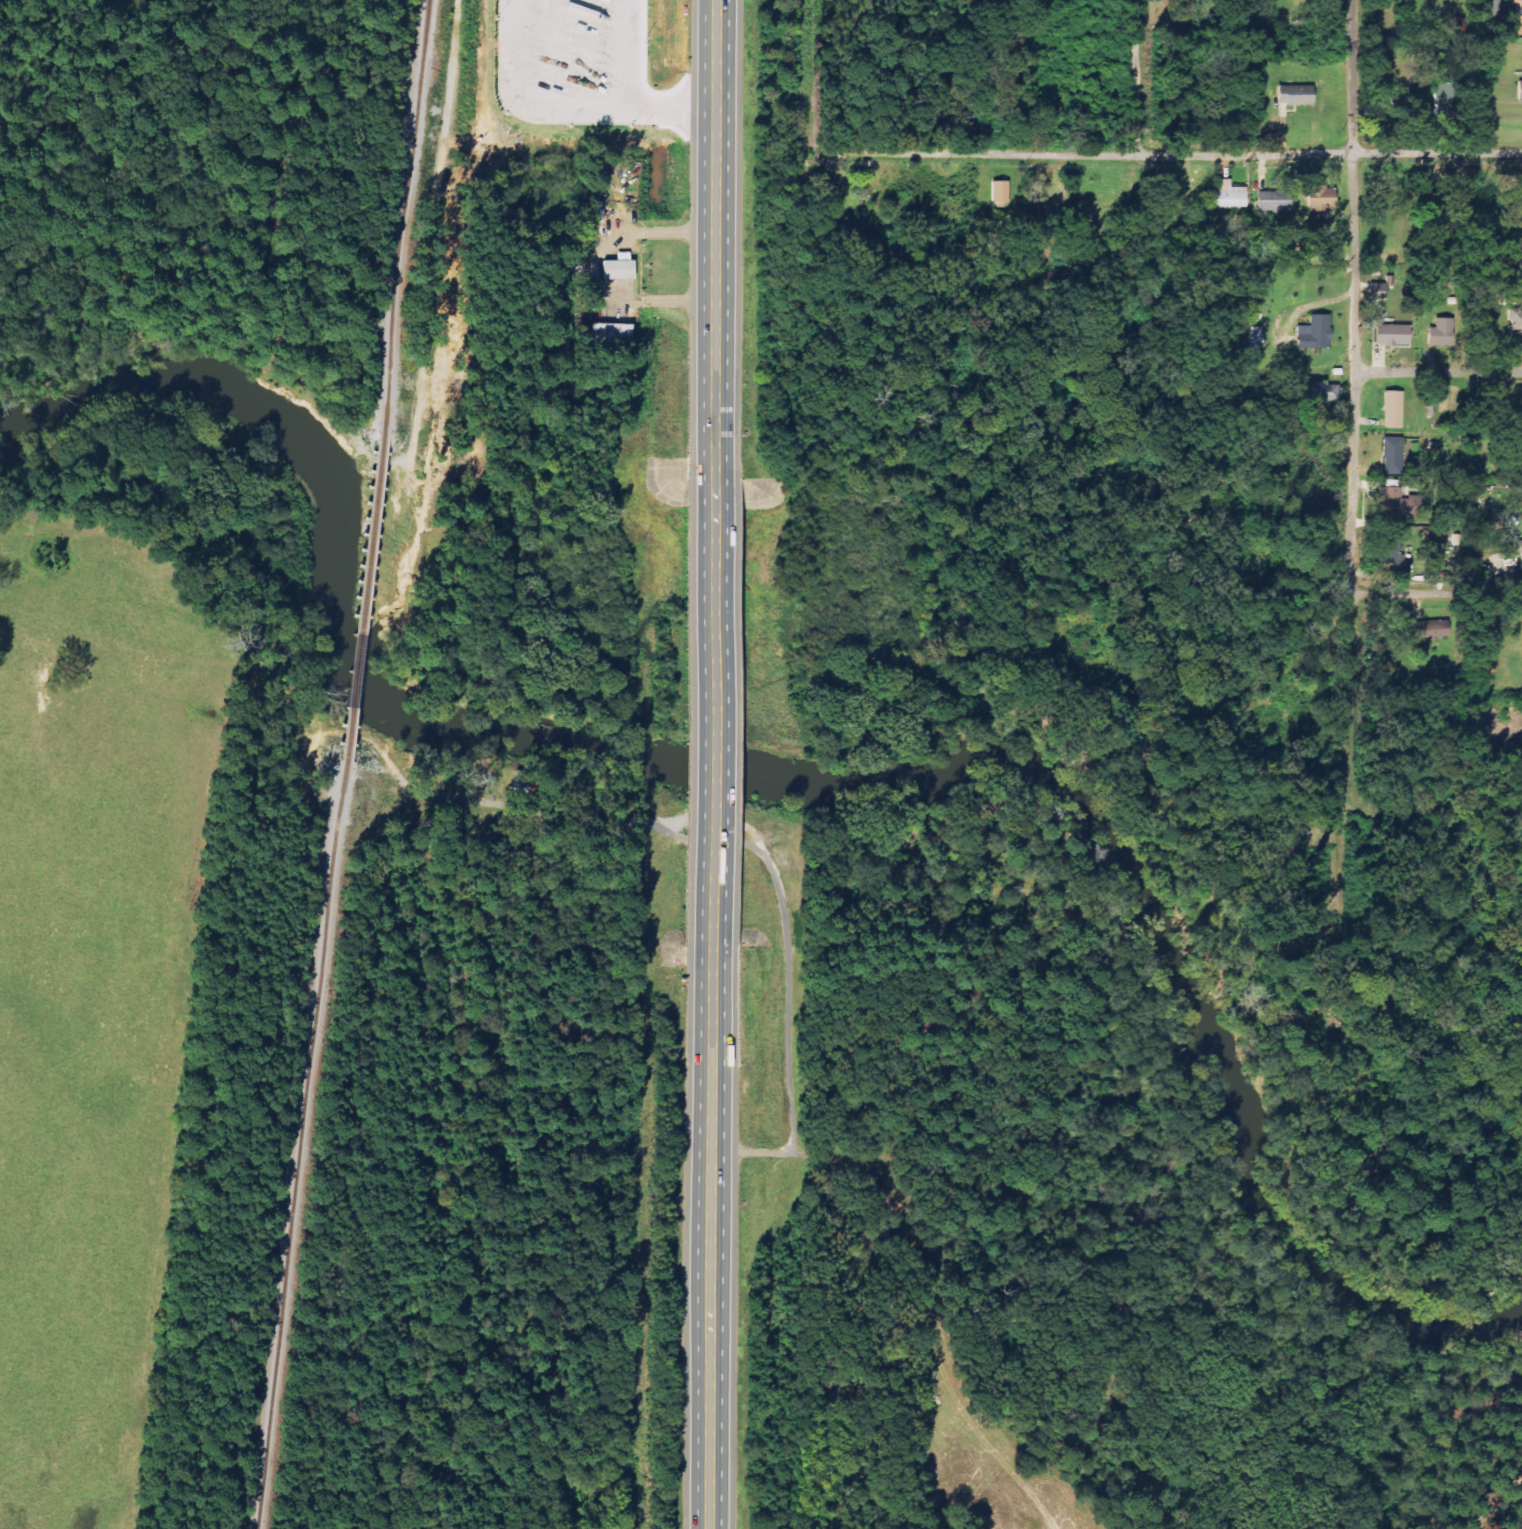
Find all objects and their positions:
building: (1516, 6)
building: (1488, 8)
building: (1172, 9)
road: (1135, 77)
building: (1519, 91)
building: (1295, 95)
building: (1443, 102)
road: (1163, 155)
road: (1357, 186)
railway: (412, 195)
building: (1230, 195)
building: (1321, 197)
building: (1273, 208)
road: (718, 235)
building: (618, 268)
building: (1377, 292)
building: (1516, 328)
building: (1315, 333)
building: (1441, 333)
building: (611, 334)
building: (1392, 335)
road: (1439, 372)
building: (1325, 393)
building: (1393, 409)
building: (1393, 456)
building: (1397, 504)
building: (1520, 558)
building: (1510, 560)
road: (1355, 592)
road: (1438, 593)
railway: (368, 599)
building: (1429, 630)
road: (715, 706)
river: (795, 785)
road: (1435, 810)
road: (787, 913)
railway: (301, 1167)
road: (713, 1235)

